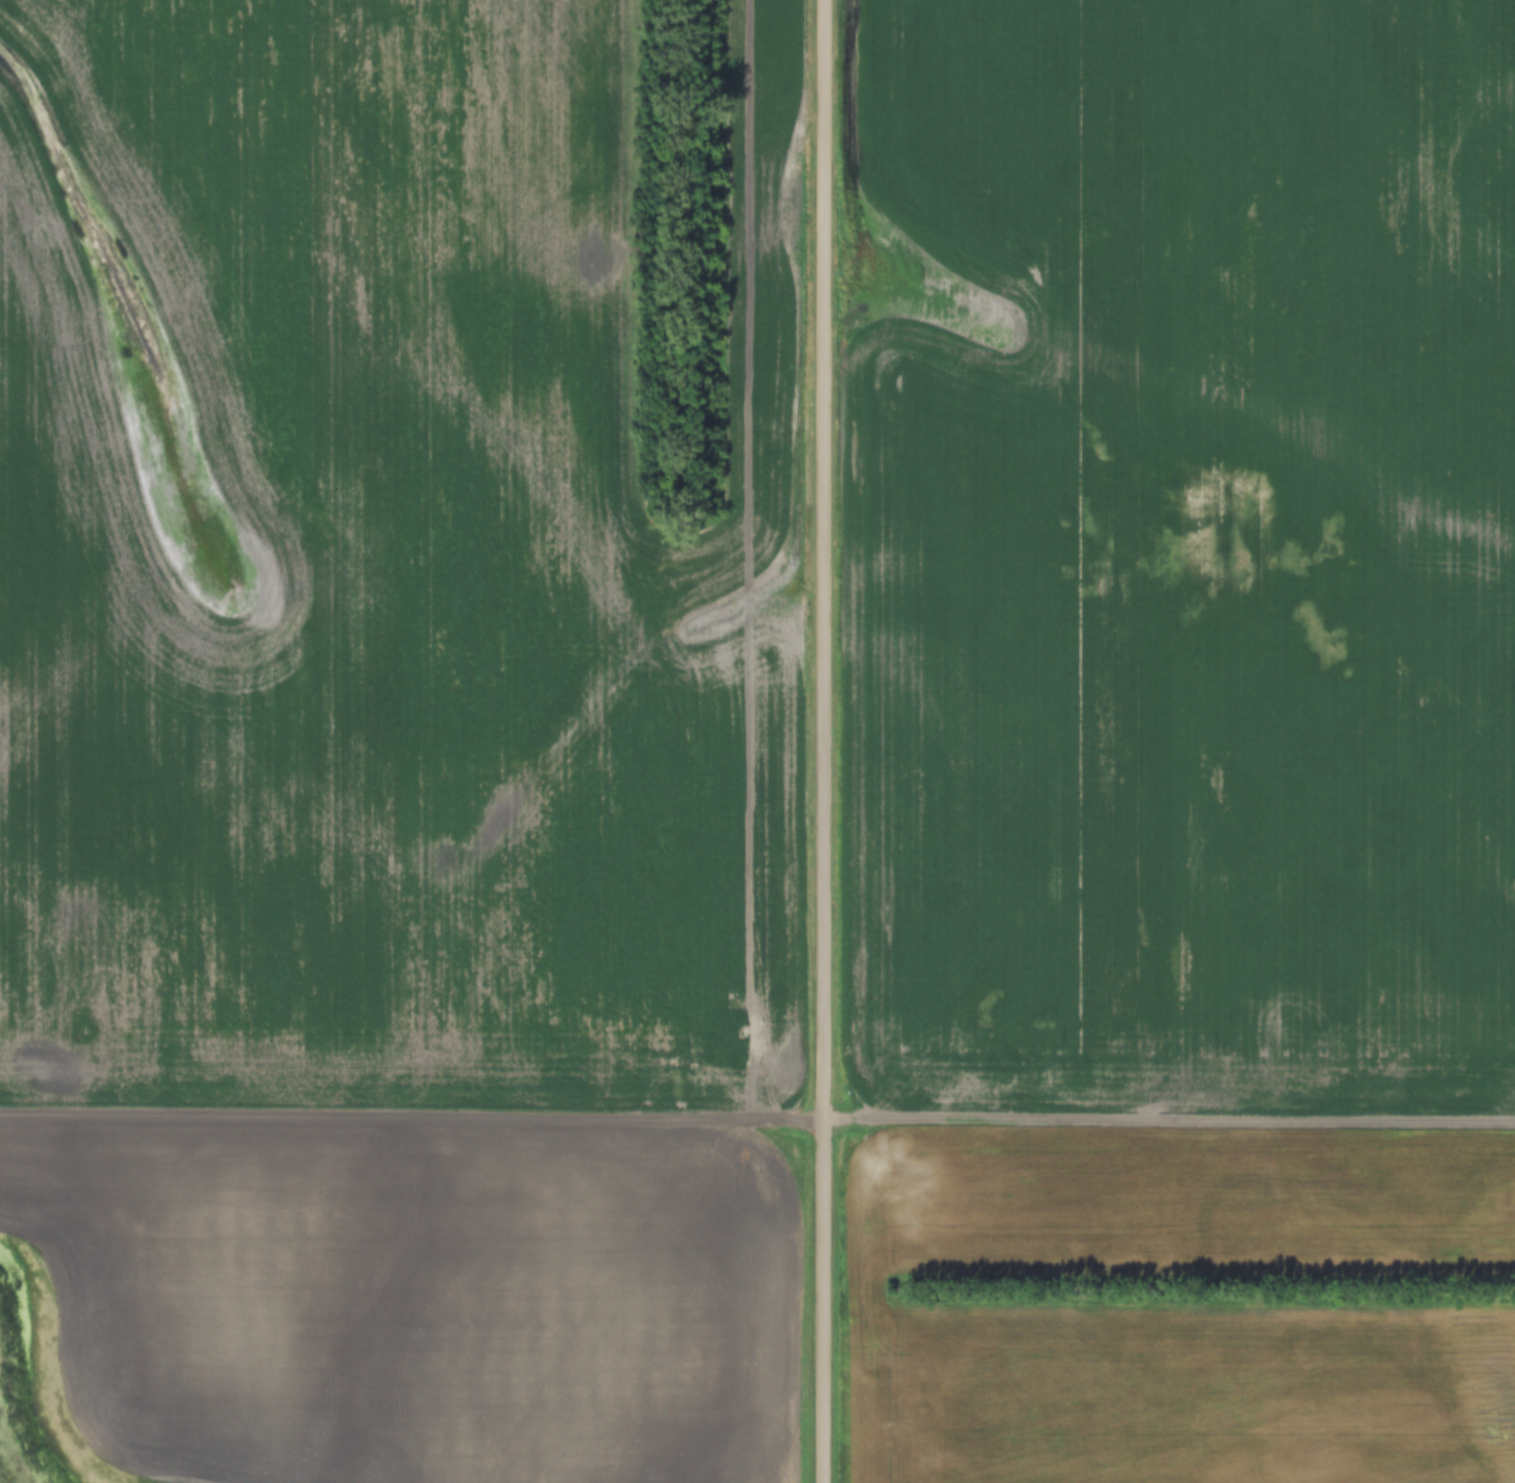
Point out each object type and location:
road: (824, 741)
road: (757, 1120)

